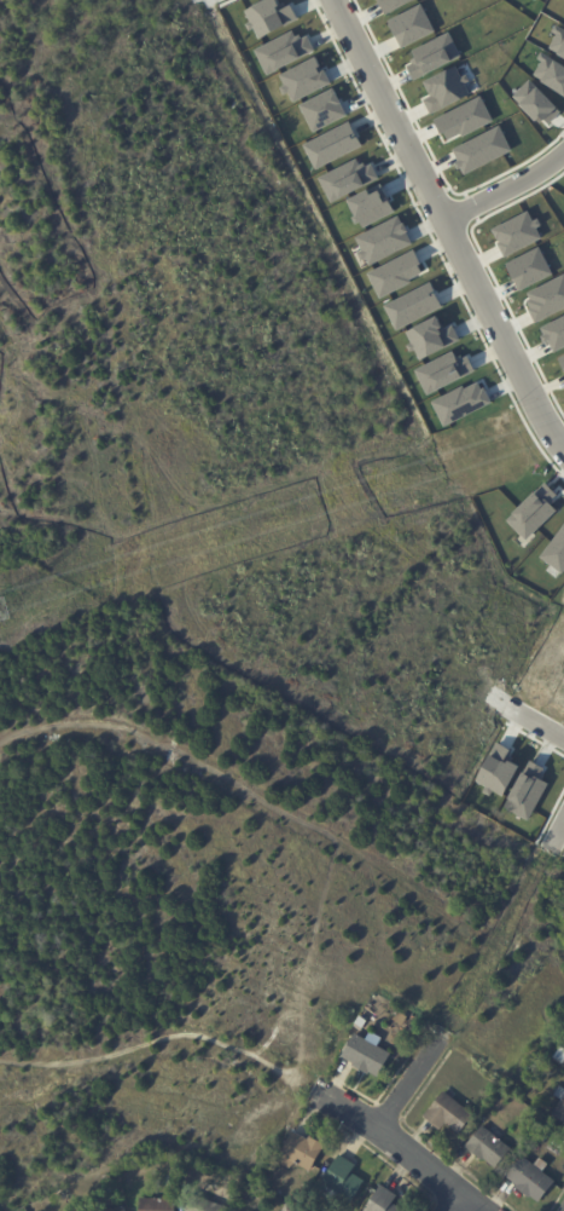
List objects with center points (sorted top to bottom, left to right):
building: (272, 16)
building: (558, 40)
building: (285, 48)
building: (551, 71)
building: (307, 77)
building: (536, 102)
building: (326, 109)
building: (464, 117)
building: (333, 144)
building: (482, 149)
building: (349, 178)
road: (508, 191)
building: (372, 206)
road: (452, 220)
building: (517, 232)
building: (384, 240)
building: (529, 267)
building: (395, 273)
building: (547, 298)
building: (412, 305)
building: (431, 338)
building: (444, 370)
building: (460, 402)
building: (536, 511)
building: (556, 557)
park: (47, 595)
power tower: (4, 612)
road: (540, 713)
building: (366, 1017)
road: (163, 1037)
building: (367, 1055)
building: (562, 1055)
road: (409, 1080)
building: (562, 1092)
building: (560, 1112)
building: (452, 1113)
building: (546, 1134)
road: (399, 1147)
building: (492, 1147)
building: (304, 1152)
building: (174, 1176)
building: (535, 1178)
building: (345, 1181)
building: (60, 1193)
building: (385, 1201)
road: (444, 1203)
building: (158, 1205)
building: (208, 1205)
building: (290, 1209)
building: (120, 1210)
building: (246, 1210)

